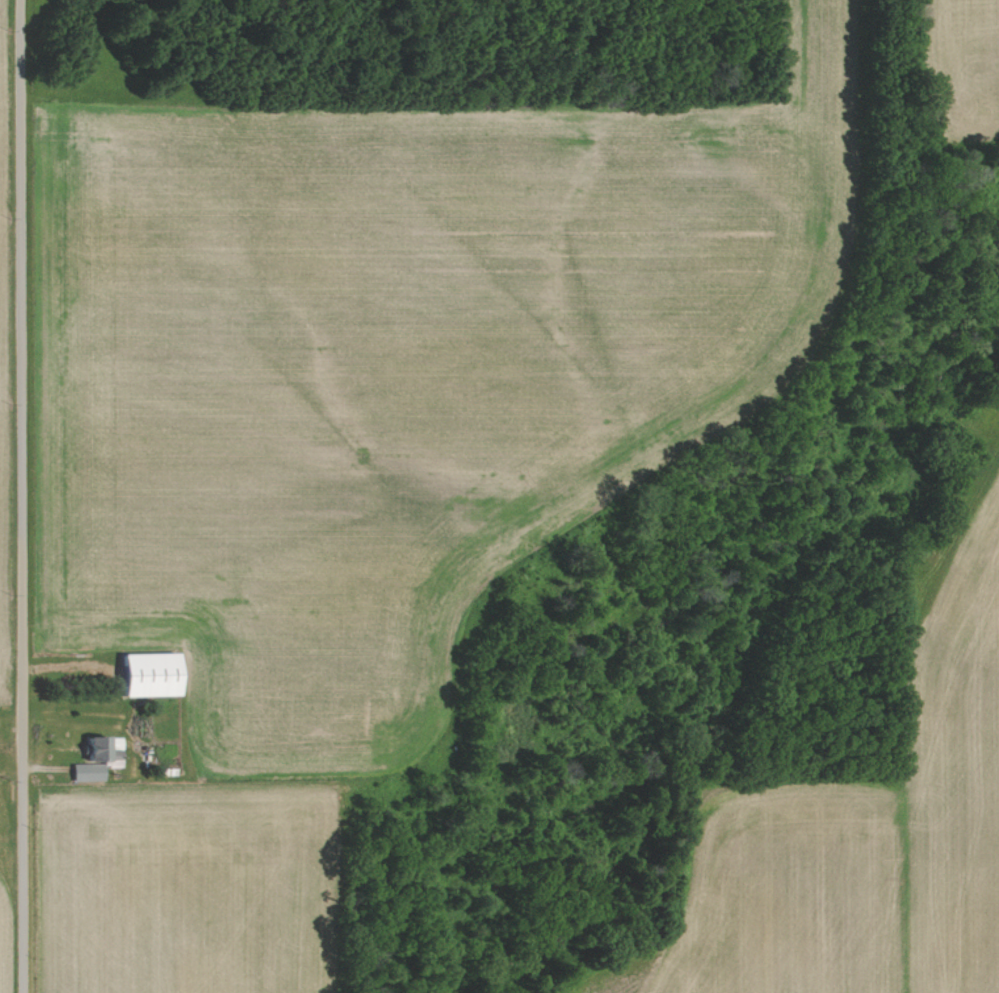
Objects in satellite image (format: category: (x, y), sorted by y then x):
road: (20, 496)
building: (98, 759)

